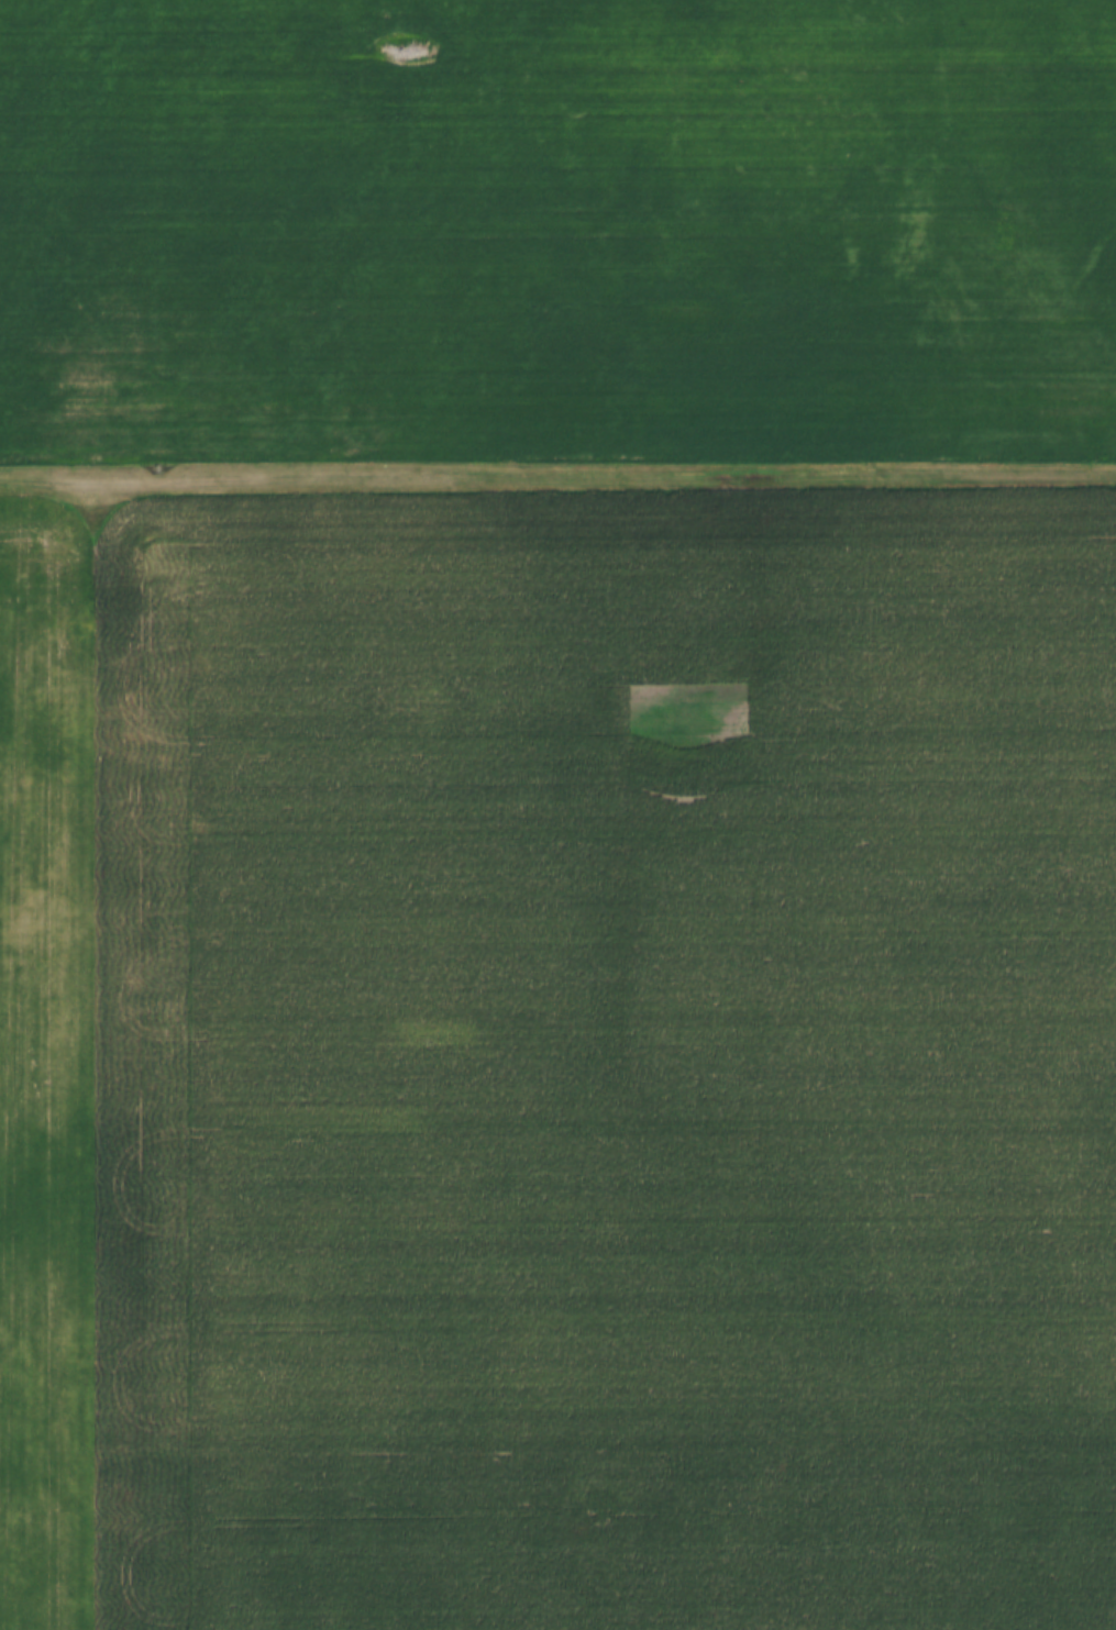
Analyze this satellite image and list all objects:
road: (557, 481)

